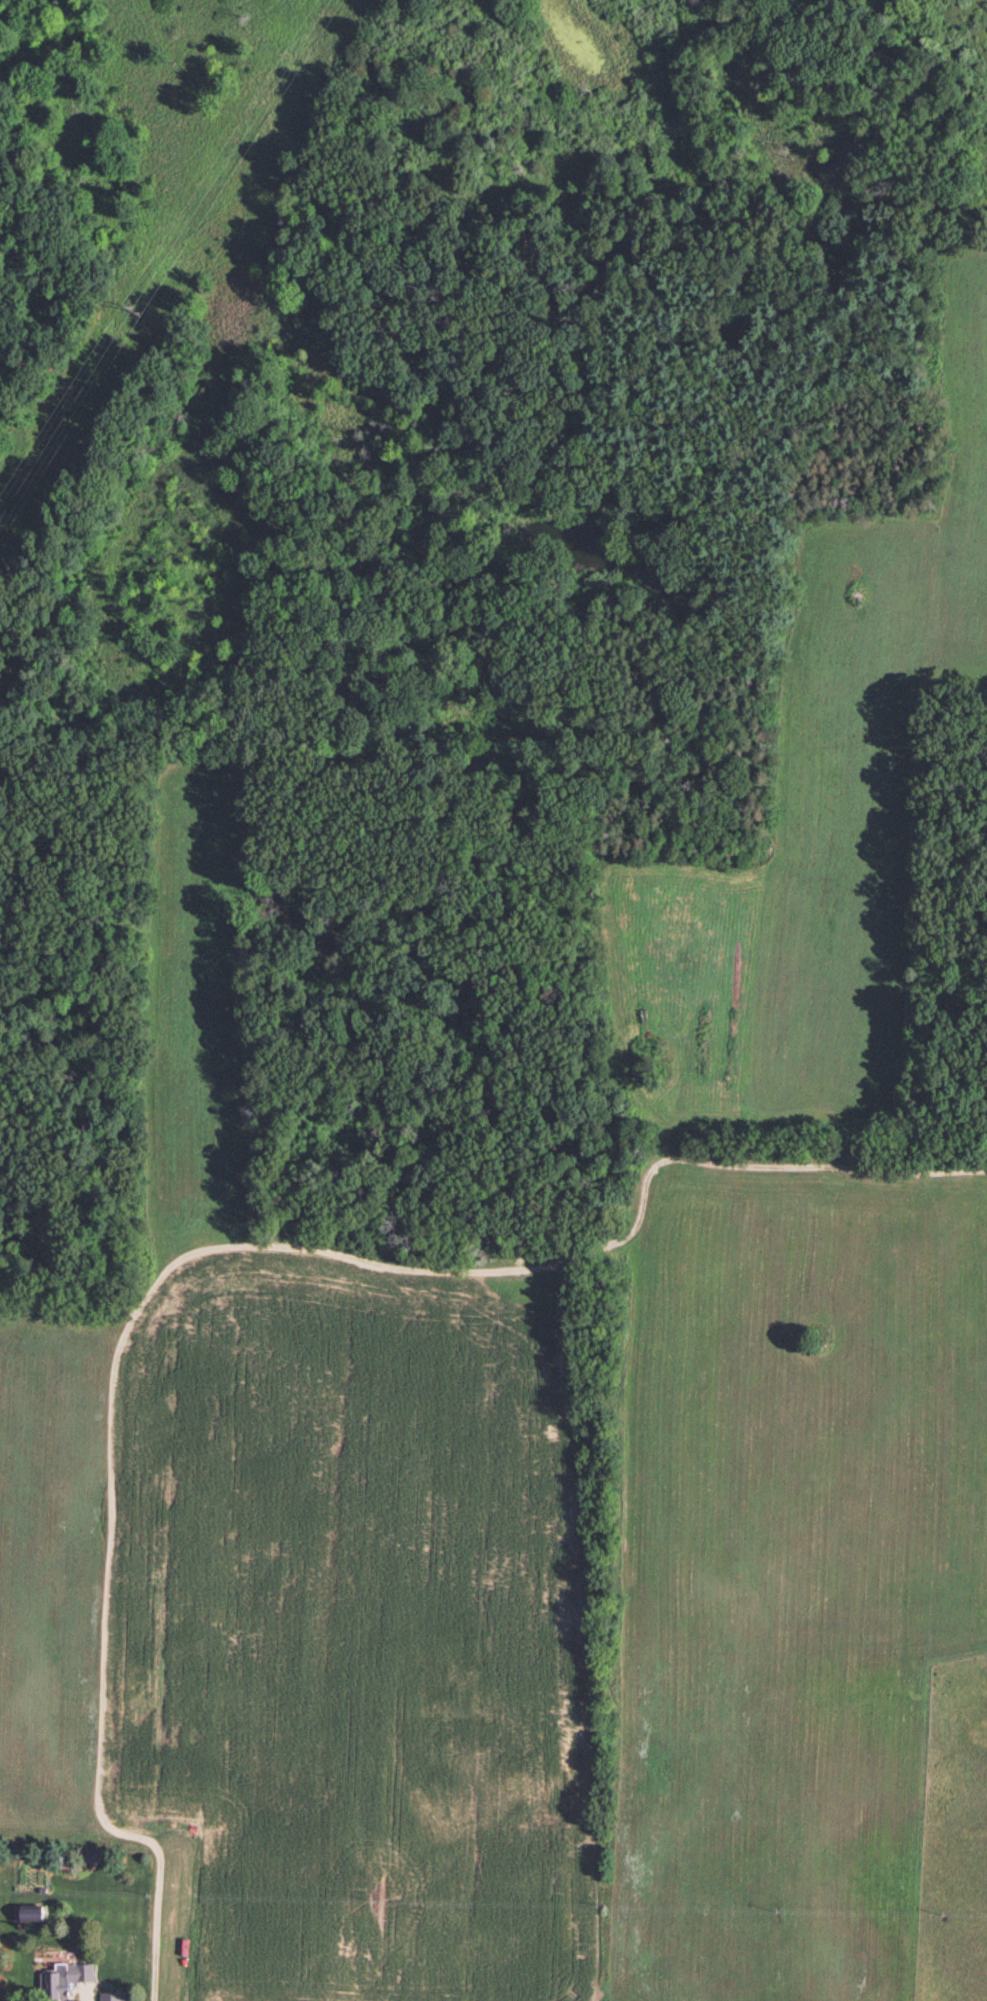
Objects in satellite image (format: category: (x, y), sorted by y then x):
power tower: (138, 310)
crop: (868, 749)
crop: (790, 1566)
crop: (48, 1575)
crop: (348, 1630)
building: (32, 1912)
building: (67, 1976)
building: (111, 1996)

